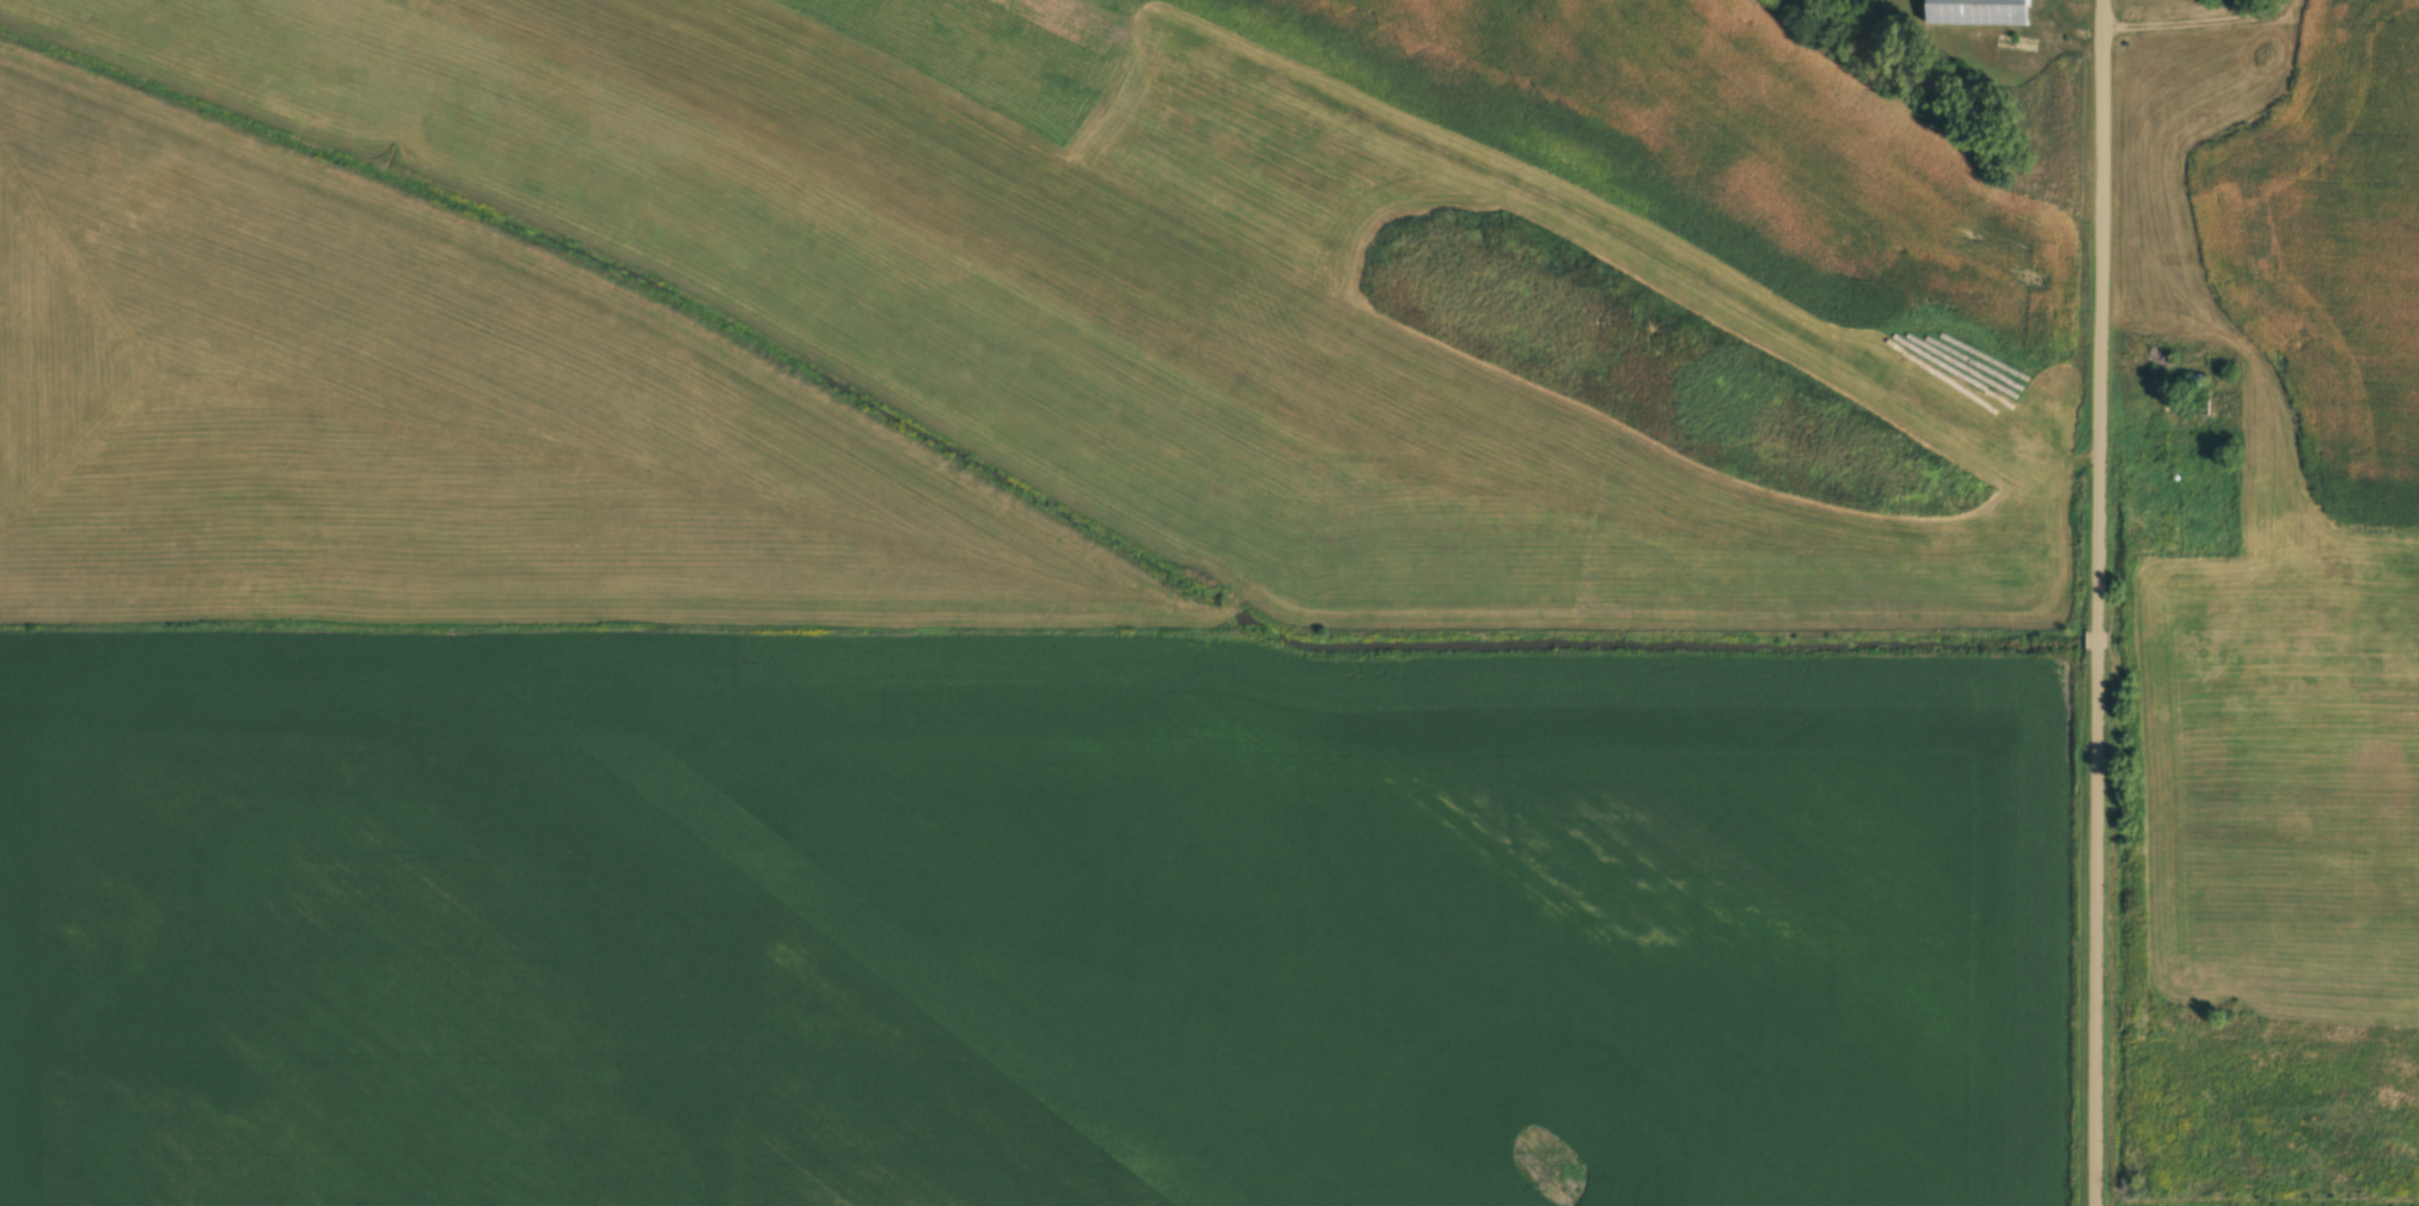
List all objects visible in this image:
building: (1975, 12)
road: (2097, 316)
building: (2195, 380)
road: (2095, 641)
road: (2094, 928)

